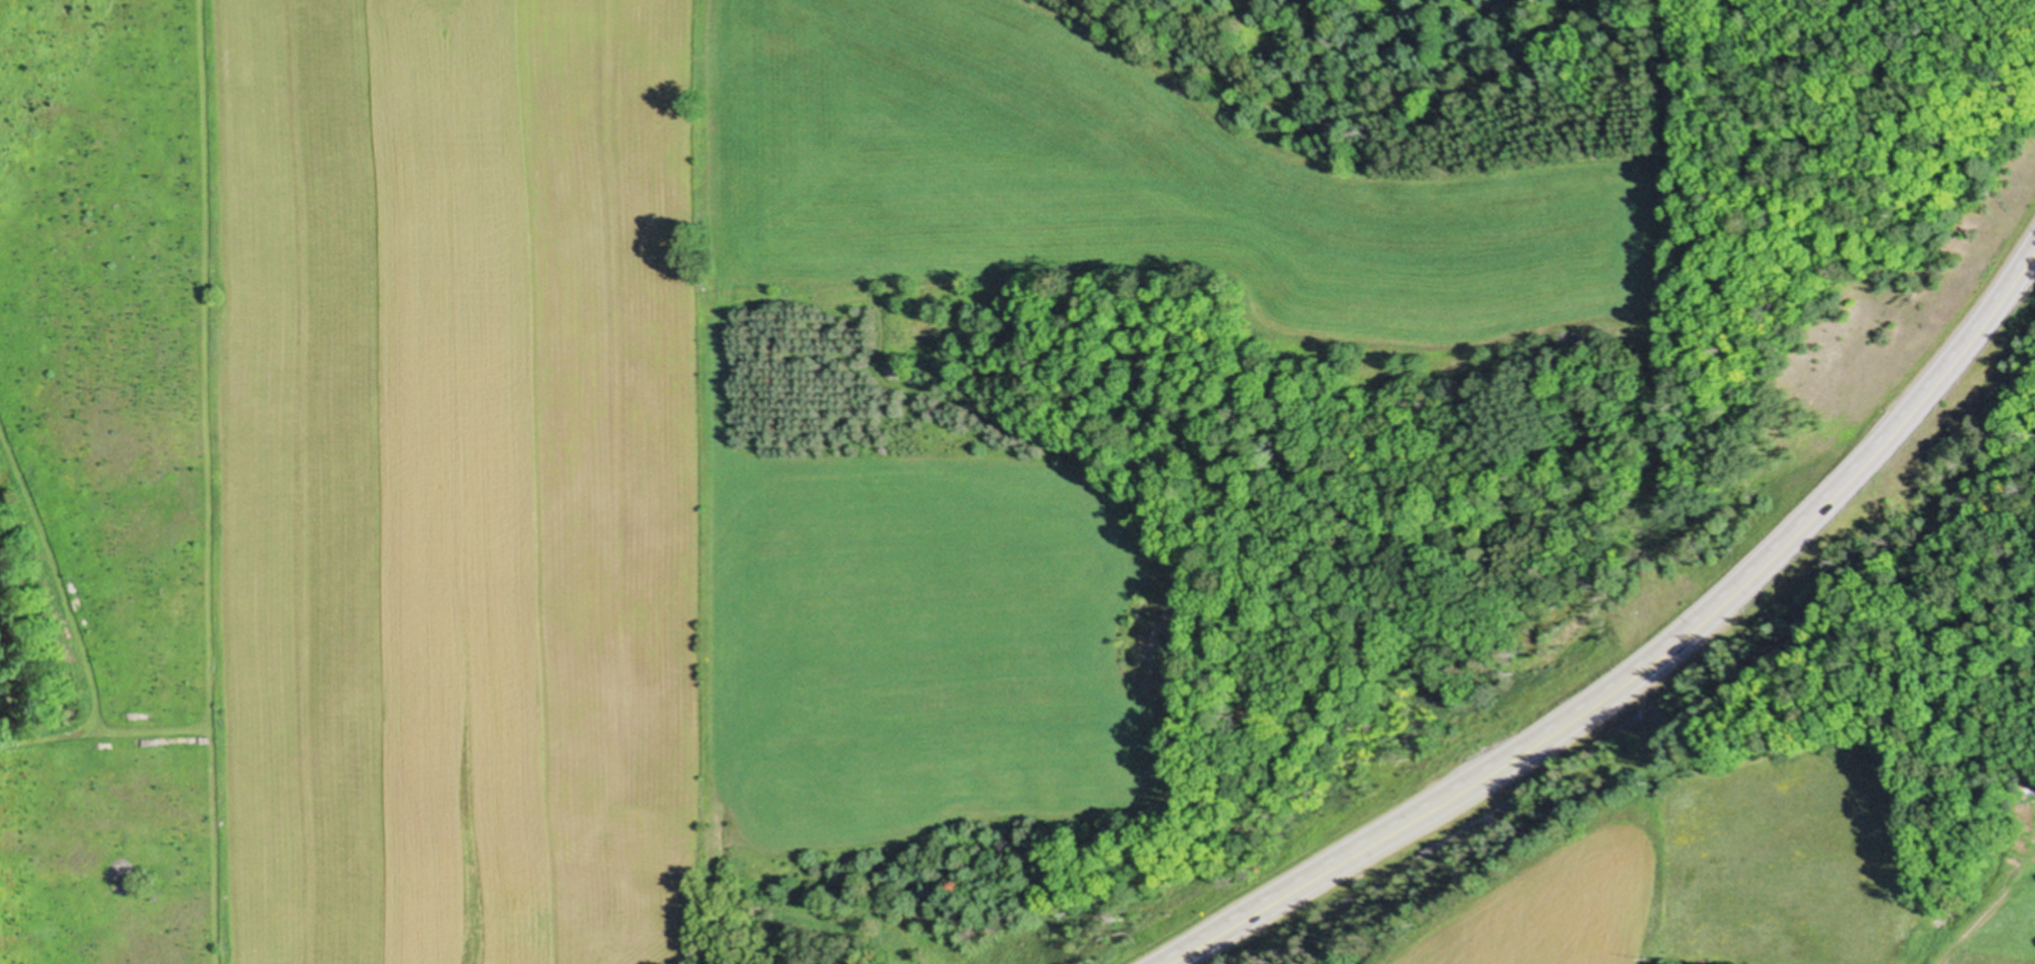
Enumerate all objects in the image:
road: (1654, 665)
road: (1980, 916)

